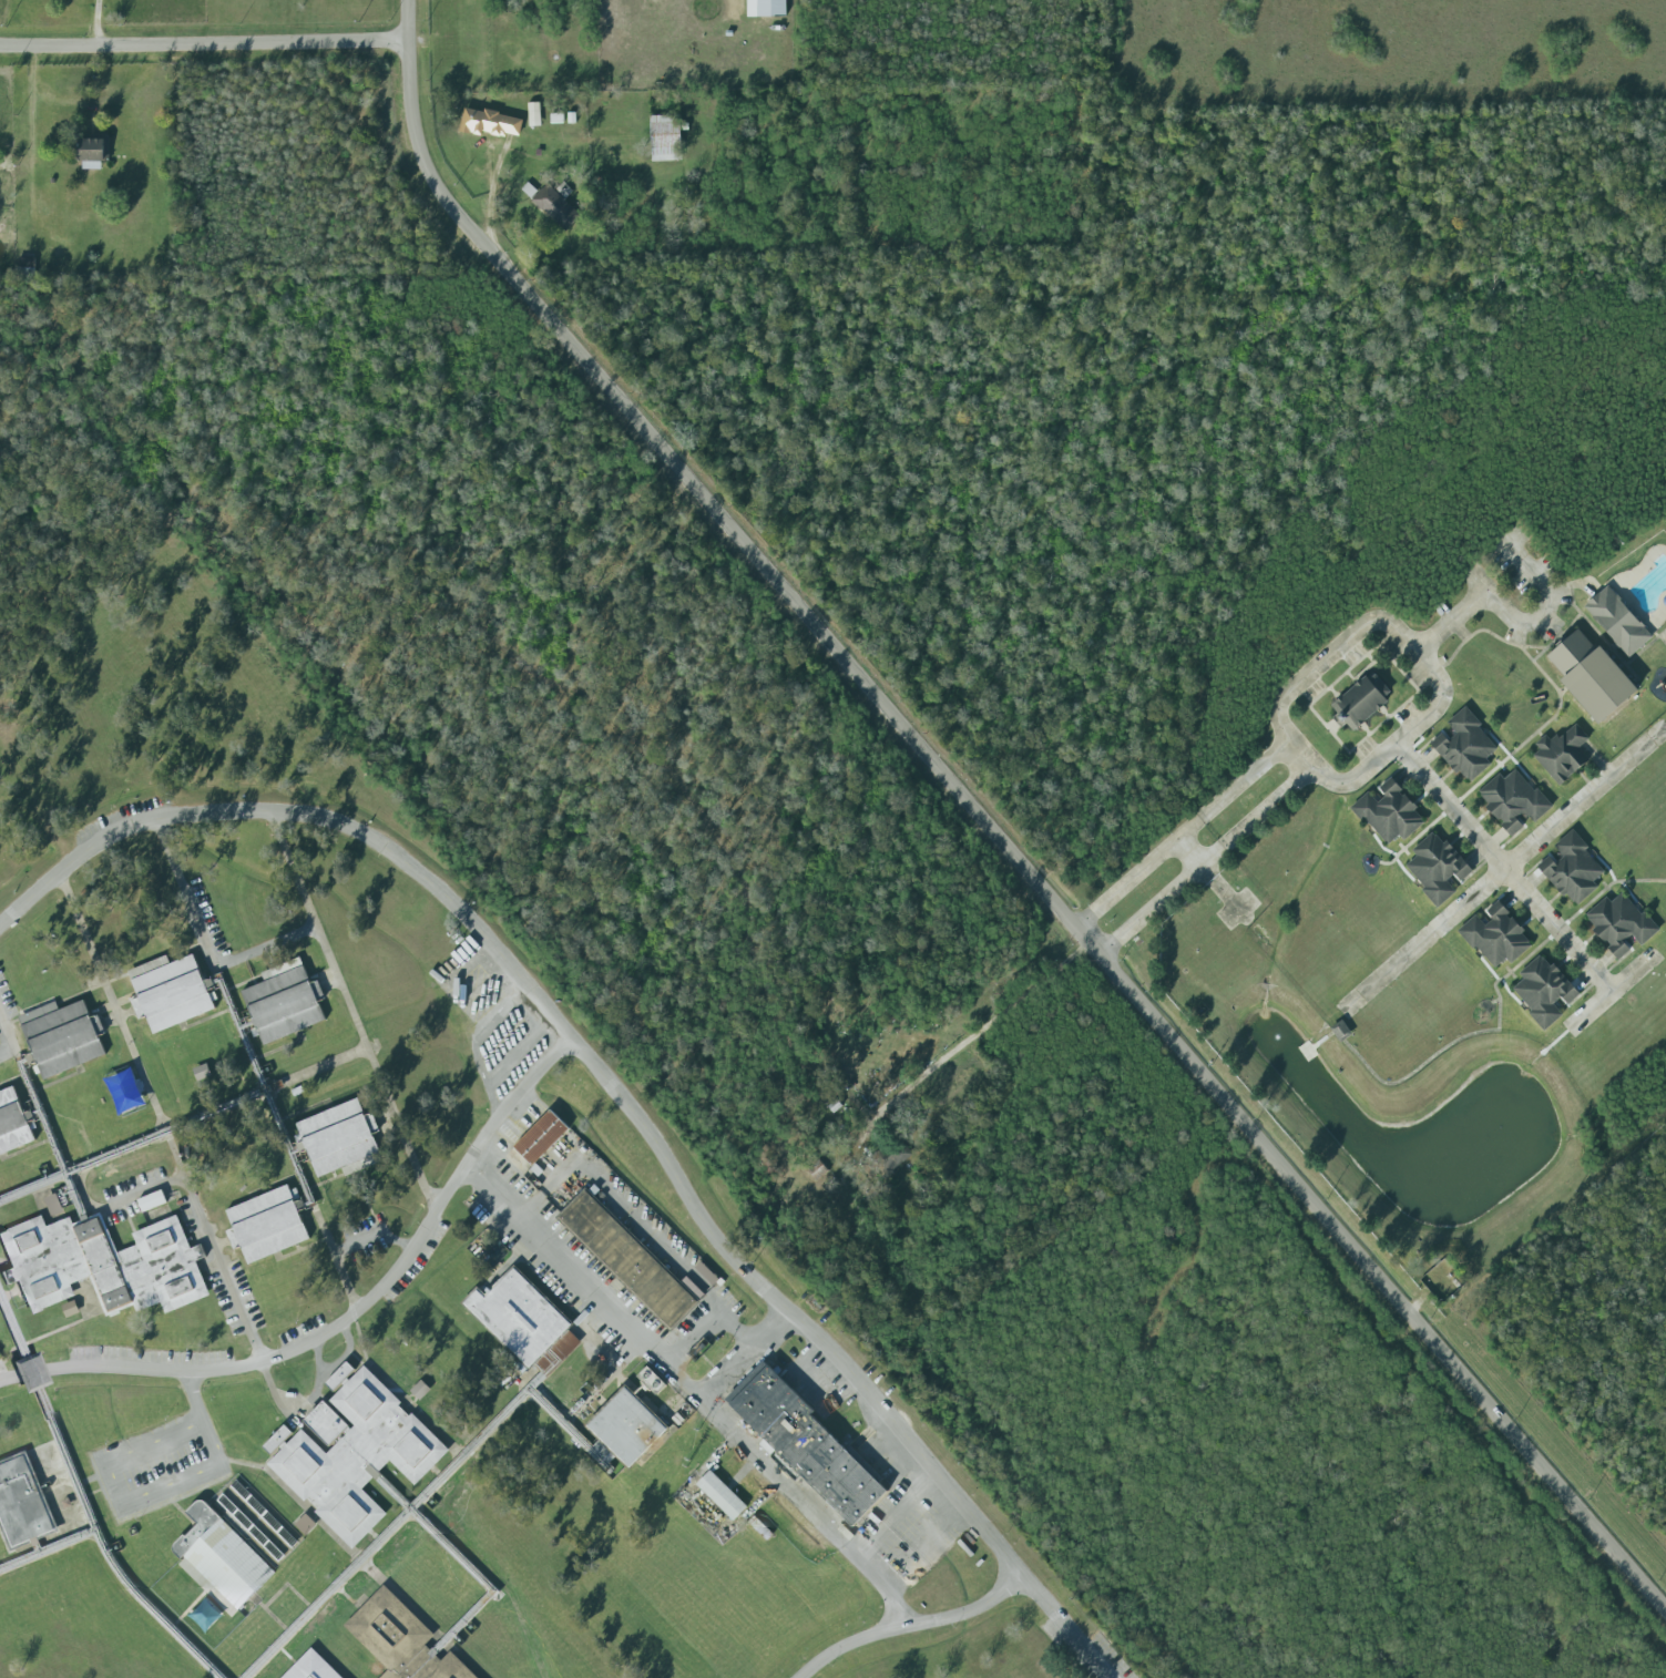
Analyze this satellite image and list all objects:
building: (766, 8)
road: (208, 40)
building: (534, 114)
building: (490, 123)
building: (666, 137)
building: (93, 151)
building: (556, 205)
road: (1506, 615)
building: (1617, 622)
road: (1360, 628)
building: (1593, 672)
building: (1362, 700)
building: (1464, 743)
building: (1562, 751)
building: (1513, 799)
road: (1570, 811)
building: (1390, 814)
road: (993, 819)
road: (1462, 819)
road: (1183, 835)
road: (1205, 860)
building: (1437, 868)
building: (1573, 869)
building: (1619, 923)
road: (1427, 937)
building: (1496, 937)
road: (269, 943)
building: (1543, 991)
building: (170, 992)
building: (285, 1002)
road: (358, 1007)
road: (995, 1023)
building: (63, 1037)
road: (10, 1058)
road: (257, 1061)
building: (202, 1072)
road: (614, 1084)
road: (33, 1089)
building: (835, 1106)
building: (13, 1123)
road: (187, 1126)
building: (541, 1137)
building: (340, 1139)
road: (176, 1142)
building: (888, 1159)
building: (152, 1201)
building: (53, 1205)
road: (625, 1211)
building: (266, 1225)
building: (630, 1260)
building: (104, 1265)
building: (70, 1309)
road: (348, 1318)
road: (712, 1319)
building: (524, 1322)
road: (752, 1353)
building: (419, 1389)
road: (717, 1402)
road: (202, 1413)
building: (627, 1426)
building: (278, 1440)
building: (807, 1441)
building: (355, 1452)
road: (112, 1484)
road: (430, 1495)
building: (722, 1495)
building: (22, 1501)
road: (85, 1502)
road: (900, 1510)
building: (306, 1524)
road: (432, 1535)
road: (49, 1552)
building: (223, 1556)
road: (895, 1602)
road: (914, 1627)
building: (401, 1640)
building: (311, 1667)

